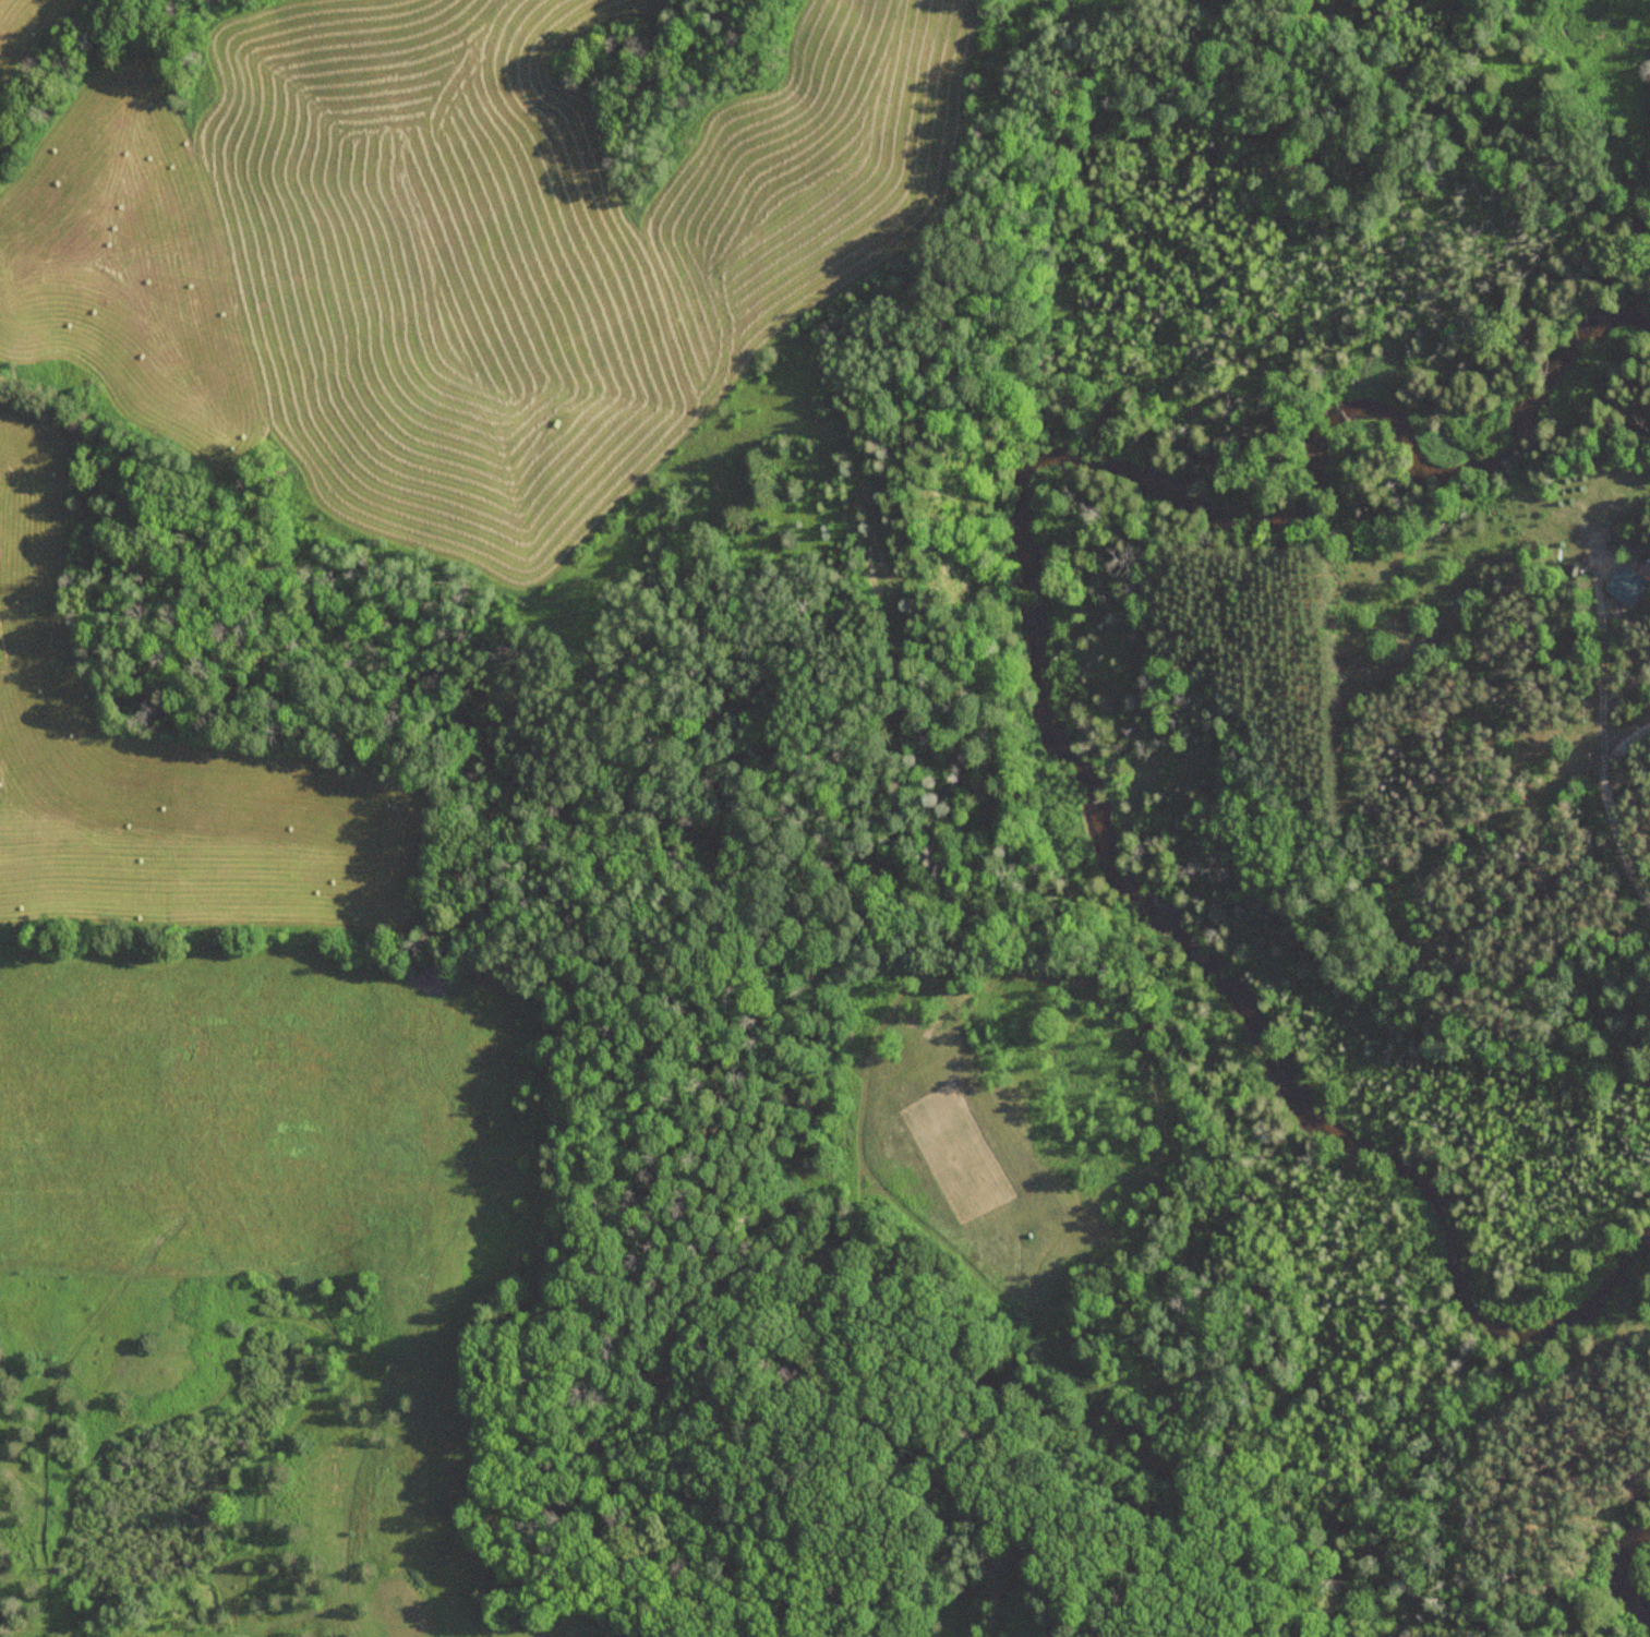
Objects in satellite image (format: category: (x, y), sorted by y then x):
river: (1067, 671)
road: (1605, 807)
river: (1633, 1587)

